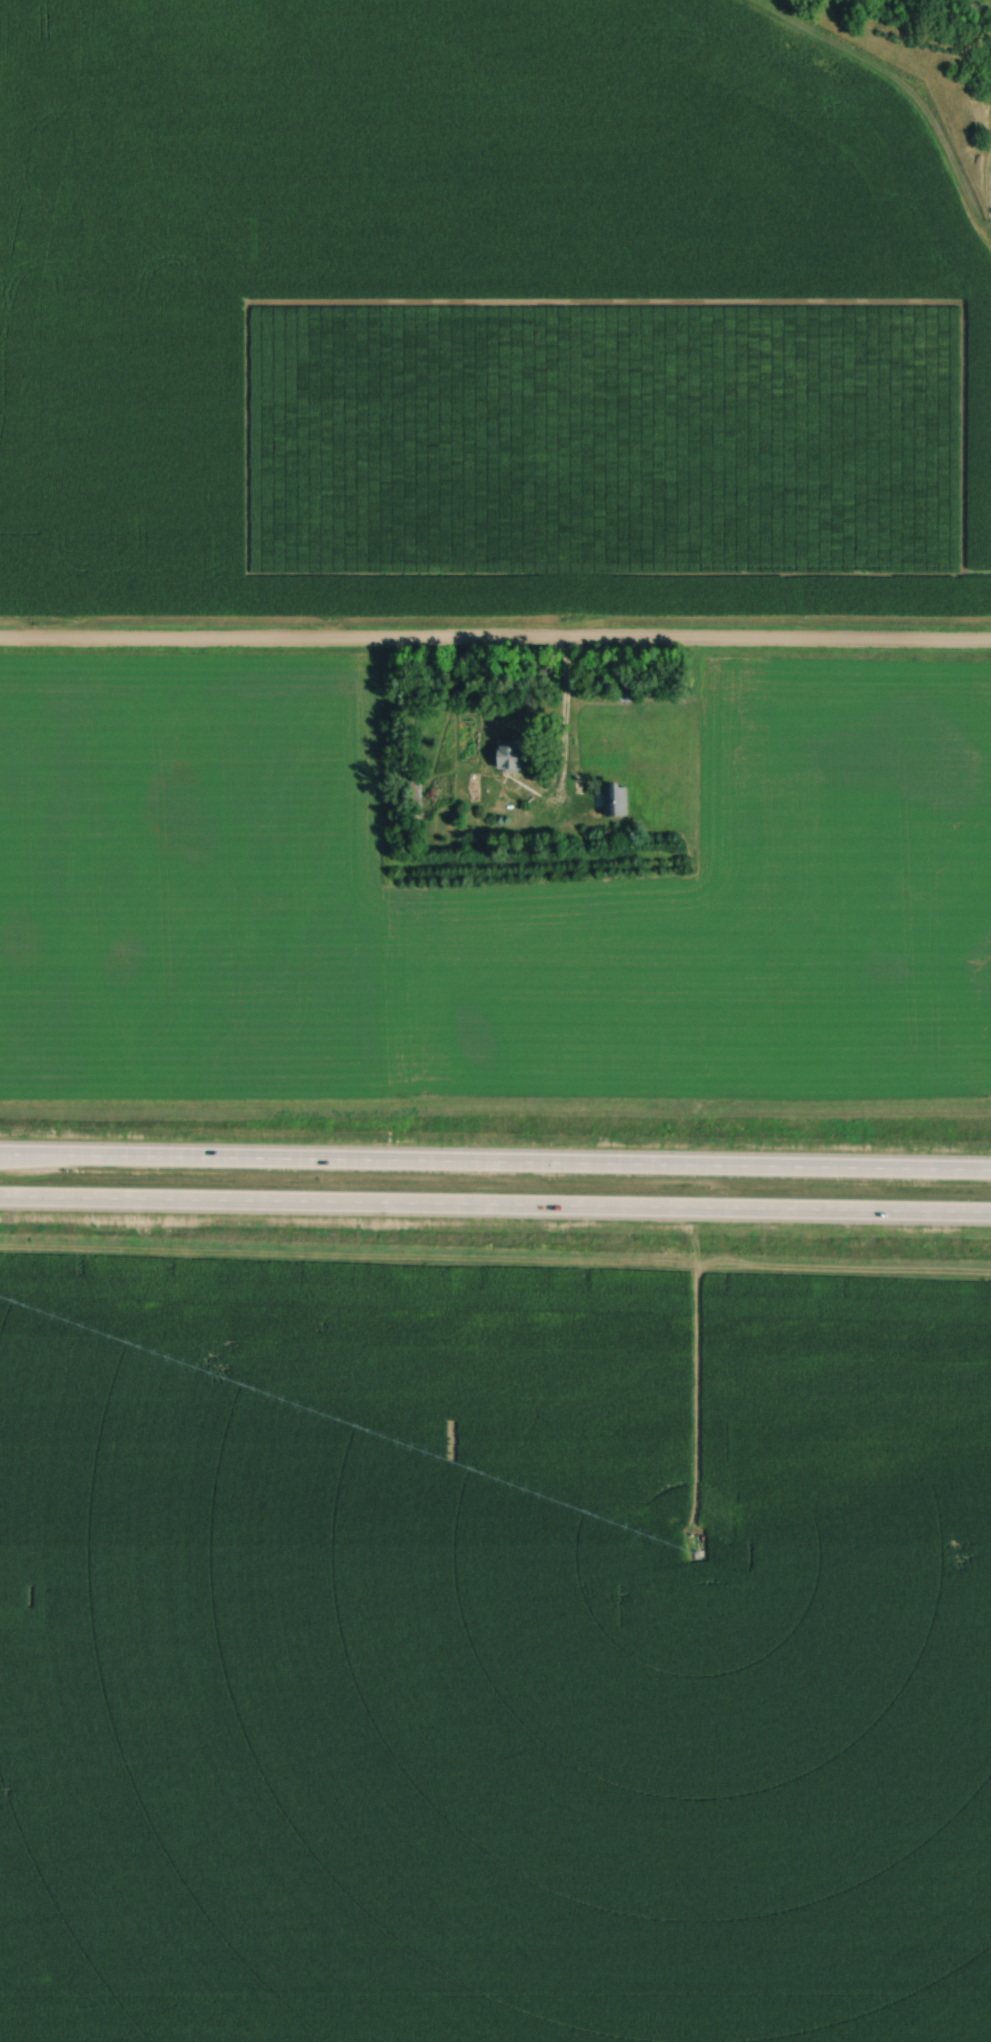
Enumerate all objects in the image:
road: (988, 205)
road: (495, 645)
road: (562, 720)
building: (512, 757)
building: (615, 800)
road: (495, 1159)
road: (495, 1207)

